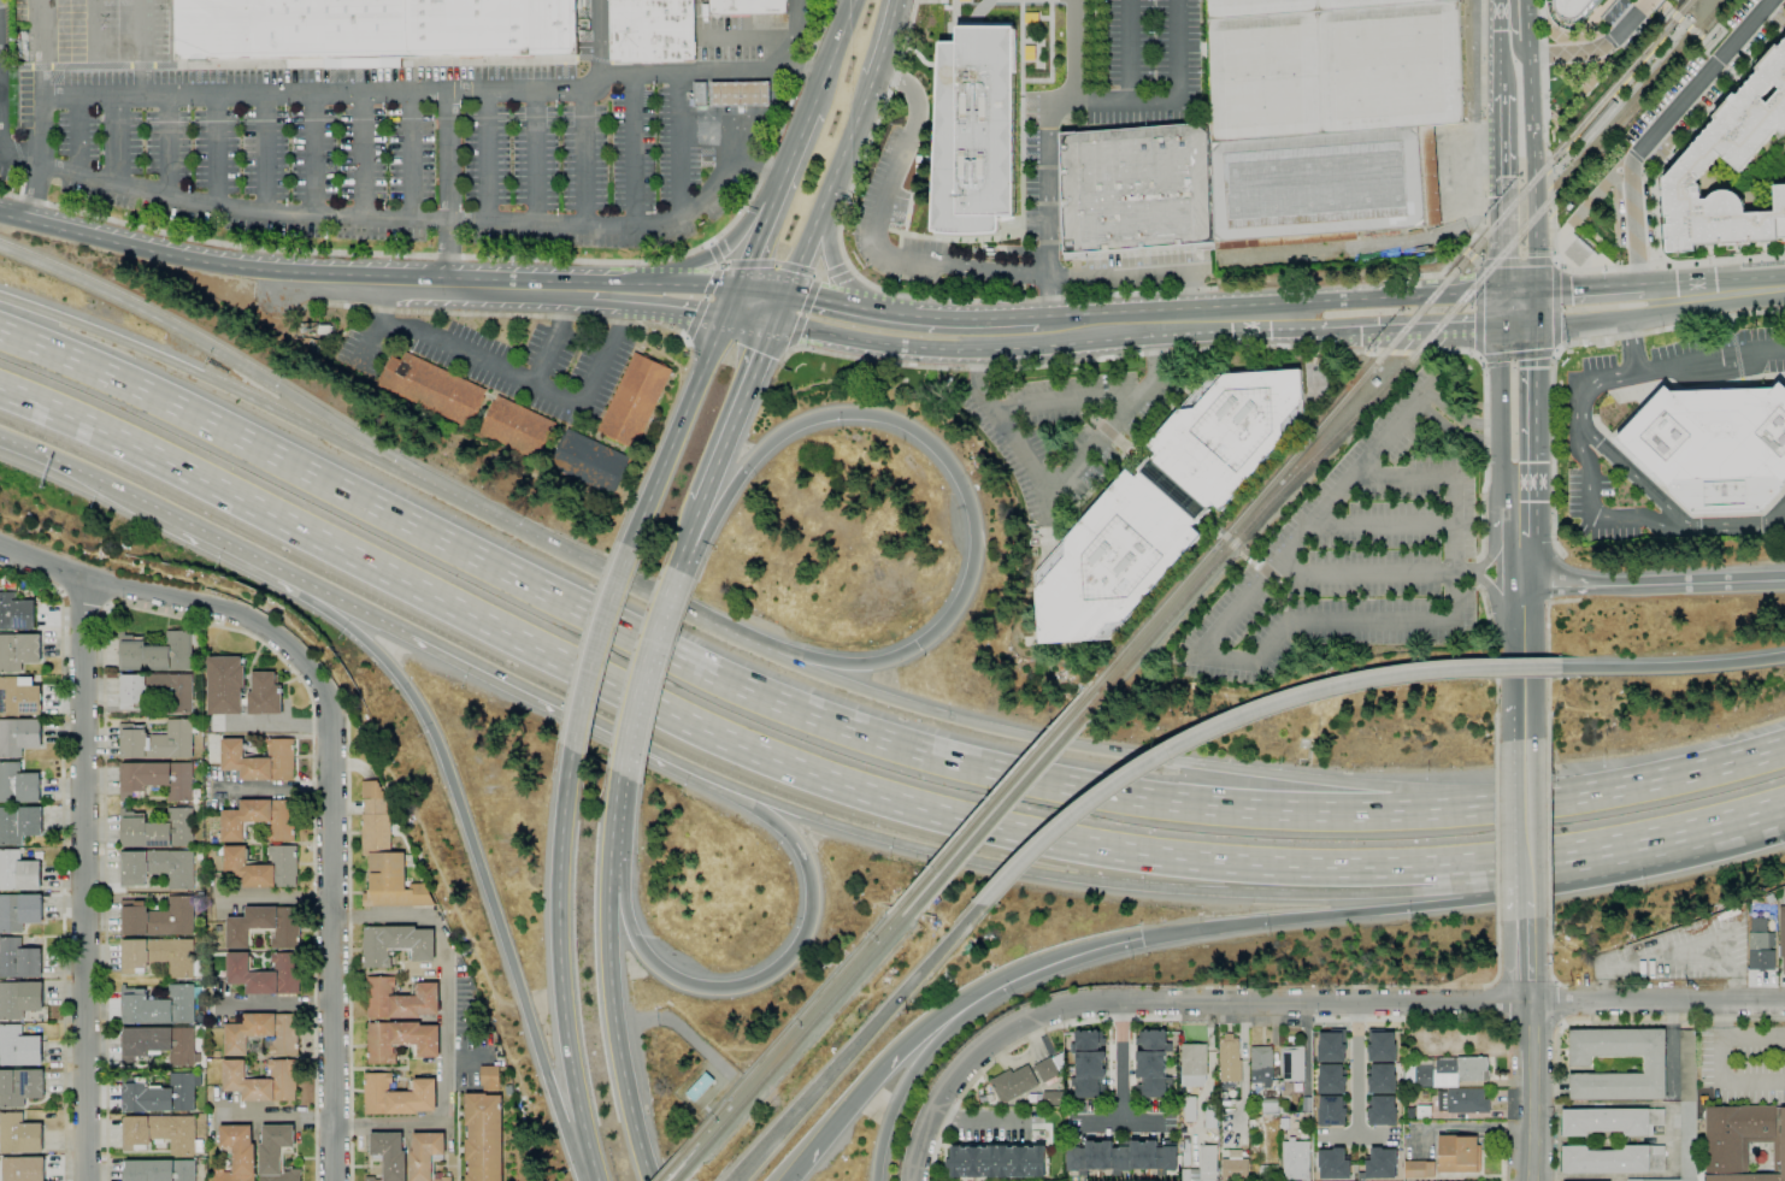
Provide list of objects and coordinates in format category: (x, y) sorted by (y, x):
parking lot: (1, 2)
building: (748, 6)
building: (1573, 7)
road: (1665, 11)
road: (1675, 16)
road: (1630, 19)
road: (1684, 23)
road: (40, 25)
road: (95, 25)
road: (142, 25)
parking lot: (93, 26)
road: (1542, 26)
building: (372, 30)
building: (653, 30)
road: (1722, 30)
road: (1678, 31)
road: (1512, 33)
road: (1693, 33)
road: (747, 37)
road: (889, 39)
railway: (1669, 39)
road: (600, 43)
road: (1097, 43)
road: (1500, 47)
road: (92, 51)
road: (1072, 51)
road: (1130, 52)
road: (1572, 52)
road: (832, 54)
road: (1053, 54)
road: (787, 55)
road: (1716, 61)
building: (1332, 65)
road: (40, 73)
road: (1730, 73)
road: (1, 83)
building: (701, 94)
building: (742, 94)
gas station: (742, 94)
road: (740, 100)
road: (1084, 101)
road: (1545, 101)
building: (1598, 120)
road: (1660, 126)
road: (4, 131)
parking lot: (7, 131)
building: (976, 131)
road: (78, 138)
parking lot: (382, 140)
road: (117, 143)
building: (1727, 144)
road: (1533, 146)
road: (167, 148)
road: (220, 150)
road: (676, 152)
road: (264, 153)
road: (641, 153)
road: (317, 155)
road: (367, 157)
road: (489, 157)
road: (537, 157)
road: (412, 158)
road: (589, 158)
road: (1548, 160)
road: (18, 165)
road: (760, 167)
road: (1560, 167)
road: (1630, 169)
road: (1648, 171)
road: (1549, 179)
road: (1654, 183)
building: (1324, 185)
traffic signals: (1501, 188)
building: (1138, 189)
road: (449, 190)
road: (1501, 194)
road: (37, 195)
road: (774, 197)
road: (827, 200)
road: (1549, 200)
road: (1586, 203)
road: (1551, 236)
road: (711, 243)
road: (141, 244)
road: (726, 244)
road: (1463, 250)
road: (715, 253)
road: (1468, 254)
road: (490, 258)
road: (932, 260)
road: (1475, 260)
road: (1555, 261)
road: (719, 262)
road: (1515, 262)
road: (1556, 262)
road: (749, 264)
road: (777, 264)
road: (720, 265)
road: (835, 265)
road: (848, 266)
road: (797, 268)
road: (1604, 270)
road: (835, 271)
road: (819, 274)
road: (818, 278)
road: (713, 281)
road: (332, 282)
road: (1713, 282)
road: (682, 284)
road: (488, 287)
traffic signals: (740, 288)
road: (1589, 288)
traffic signals: (1569, 290)
road: (609, 291)
road: (1144, 291)
road: (1519, 293)
traffic signals: (789, 295)
road: (706, 296)
road: (811, 297)
road: (732, 301)
road: (1269, 303)
road: (674, 307)
road: (1556, 307)
road: (1536, 308)
road: (1479, 309)
road: (1643, 312)
road: (886, 313)
road: (494, 314)
traffic signals: (726, 315)
road: (803, 315)
road: (695, 318)
road: (752, 319)
traffic signals: (777, 324)
road: (1412, 327)
building: (326, 329)
road: (796, 331)
traffic signals: (1368, 331)
building: (314, 333)
road: (555, 337)
road: (687, 339)
railway: (1395, 341)
road: (1630, 342)
road: (1567, 346)
road: (211, 347)
road: (371, 347)
road: (1048, 347)
railway: (1419, 347)
road: (791, 349)
road: (1556, 352)
road: (1402, 353)
road: (1518, 354)
road: (1709, 356)
road: (1479, 358)
road: (1077, 361)
traffic signals: (1536, 367)
road: (519, 377)
road: (205, 378)
building: (1374, 382)
road: (1431, 382)
flagpole: (1763, 383)
building: (436, 388)
road: (1590, 388)
road: (1428, 395)
building: (636, 400)
road: (1067, 401)
road: (738, 413)
road: (1456, 413)
road: (1491, 425)
building: (520, 426)
road: (1445, 427)
road: (1536, 429)
road: (1106, 430)
road: (1486, 430)
road: (678, 431)
building: (477, 432)
parking lot: (1068, 432)
road: (1491, 439)
road: (1501, 443)
building: (1714, 447)
road: (1130, 450)
fountain: (1130, 451)
building: (594, 461)
road: (73, 468)
road: (956, 477)
road: (1401, 477)
road: (1067, 480)
building: (1165, 502)
road: (1772, 516)
road: (1657, 520)
road: (1719, 521)
road: (1382, 522)
road: (690, 530)
road: (223, 541)
road: (1231, 541)
road: (1494, 542)
parking lot: (1360, 547)
road: (1451, 548)
road: (577, 561)
road: (677, 562)
road: (1532, 562)
road: (1461, 572)
road: (1480, 572)
road: (1266, 573)
road: (1363, 573)
road: (1654, 585)
road: (1500, 601)
road: (355, 607)
building: (17, 612)
road: (1524, 612)
road: (177, 618)
road: (1221, 627)
traffic signals: (918, 645)
road: (595, 646)
building: (19, 650)
building: (159, 651)
road: (1547, 654)
road: (682, 662)
road: (1496, 663)
road: (1673, 666)
road: (641, 668)
road: (1524, 671)
building: (242, 689)
building: (135, 695)
building: (20, 696)
road: (571, 711)
road: (1242, 718)
road: (1524, 722)
road: (696, 730)
building: (19, 736)
building: (159, 740)
road: (1082, 750)
road: (331, 752)
building: (261, 760)
building: (158, 779)
building: (19, 784)
road: (1604, 789)
railway: (996, 795)
railway: (1008, 799)
road: (613, 809)
building: (263, 820)
road: (1525, 820)
building: (20, 823)
road: (1739, 823)
road: (1548, 826)
building: (158, 829)
road: (1497, 832)
road: (472, 850)
road: (63, 851)
road: (1602, 852)
building: (387, 856)
building: (264, 867)
building: (160, 868)
road: (1481, 868)
building: (19, 870)
road: (83, 879)
road: (1091, 881)
road: (1526, 909)
building: (20, 911)
road: (1331, 915)
building: (159, 917)
building: (267, 926)
road: (608, 934)
building: (1783, 937)
traffic signals: (1142, 938)
building: (397, 944)
building: (1761, 944)
road: (1107, 945)
road: (350, 947)
parking lot: (1683, 951)
road: (559, 955)
road: (1673, 955)
building: (161, 956)
road: (1549, 956)
road: (1497, 957)
building: (19, 958)
road: (1526, 959)
building: (267, 974)
road: (758, 978)
road: (1498, 978)
road: (1527, 981)
road: (1555, 982)
building: (20, 998)
building: (401, 999)
road: (1444, 1002)
road: (1556, 1003)
building: (161, 1005)
road: (672, 1020)
road: (1596, 1022)
road: (446, 1023)
railway: (794, 1024)
road: (1561, 1024)
building: (265, 1033)
railway: (802, 1034)
road: (938, 1038)
road: (1027, 1039)
building: (402, 1040)
road: (856, 1043)
road: (913, 1043)
building: (1332, 1044)
building: (1382, 1044)
building: (159, 1045)
building: (19, 1046)
road: (1308, 1049)
road: (976, 1057)
building: (1231, 1058)
building: (1170, 1059)
road: (1123, 1061)
building: (1580, 1062)
building: (1151, 1063)
building: (1195, 1063)
building: (1295, 1063)
building: (1089, 1064)
building: (1262, 1064)
parking lot: (1744, 1064)
building: (1689, 1065)
road: (1357, 1068)
building: (1472, 1068)
building: (1049, 1069)
building: (491, 1076)
building: (1332, 1076)
building: (1382, 1076)
building: (264, 1081)
building: (1014, 1083)
building: (20, 1086)
building: (701, 1087)
road: (1533, 1091)
building: (164, 1093)
building: (399, 1096)
building: (1039, 1096)
building: (1054, 1098)
building: (1463, 1100)
road: (628, 1102)
building: (1271, 1106)
building: (1284, 1108)
building: (1332, 1108)
building: (1382, 1108)
building: (1191, 1109)
building: (1424, 1112)
building: (1212, 1115)
road: (982, 1120)
road: (1123, 1121)
building: (1612, 1121)
building: (1253, 1124)
road: (1461, 1126)
building: (164, 1133)
building: (20, 1134)
road: (1359, 1134)
building: (484, 1136)
building: (1689, 1140)
building: (1743, 1140)
building: (1186, 1152)
building: (277, 1153)
building: (1457, 1153)
road: (1503, 1153)
building: (238, 1155)
building: (1115, 1155)
building: (390, 1156)
building: (428, 1156)
building: (996, 1158)
building: (1296, 1159)
building: (1614, 1159)
building: (1335, 1161)
building: (1382, 1161)
railway: (673, 1162)
building: (1208, 1163)
building: (24, 1168)
building: (1419, 1168)
road: (593, 1169)
railway: (684, 1169)
building: (1236, 1169)
building: (160, 1170)
building: (1269, 1170)
building: (1188, 1175)
building: (1662, 1180)

